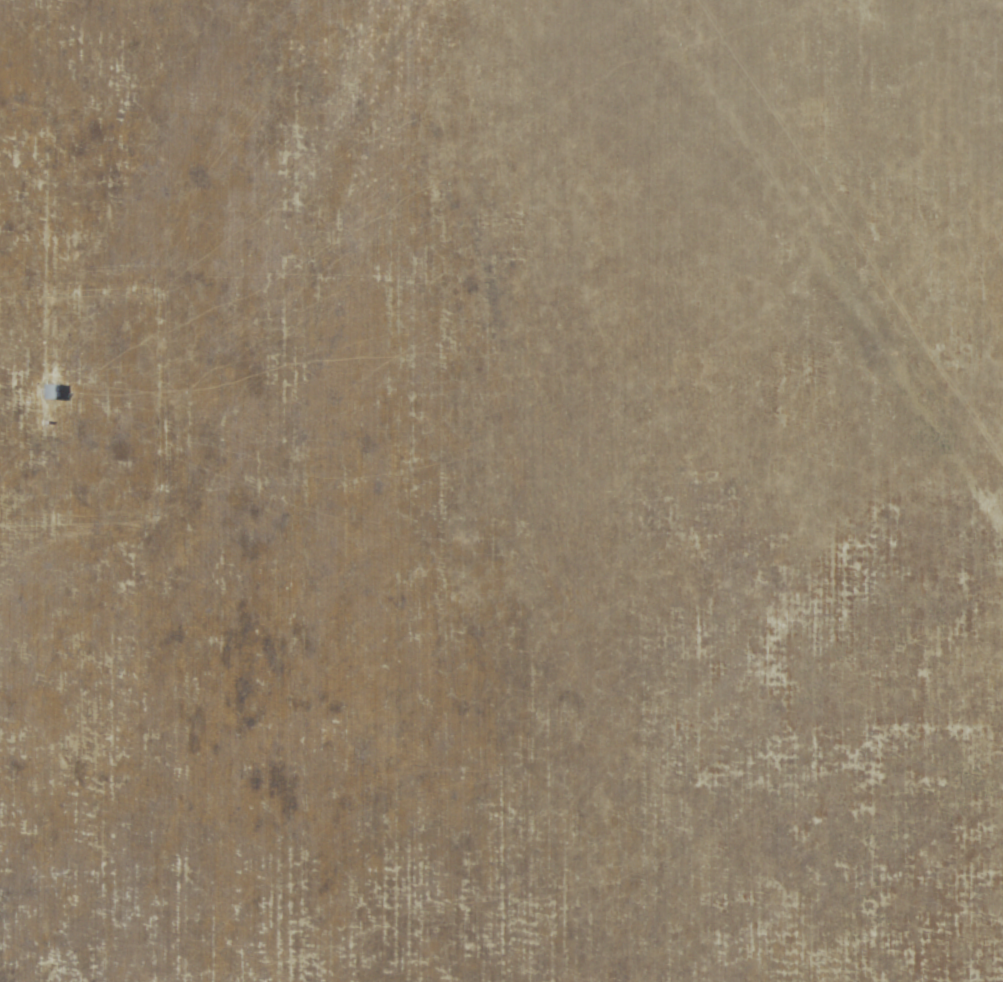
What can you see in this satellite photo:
road: (856, 218)

